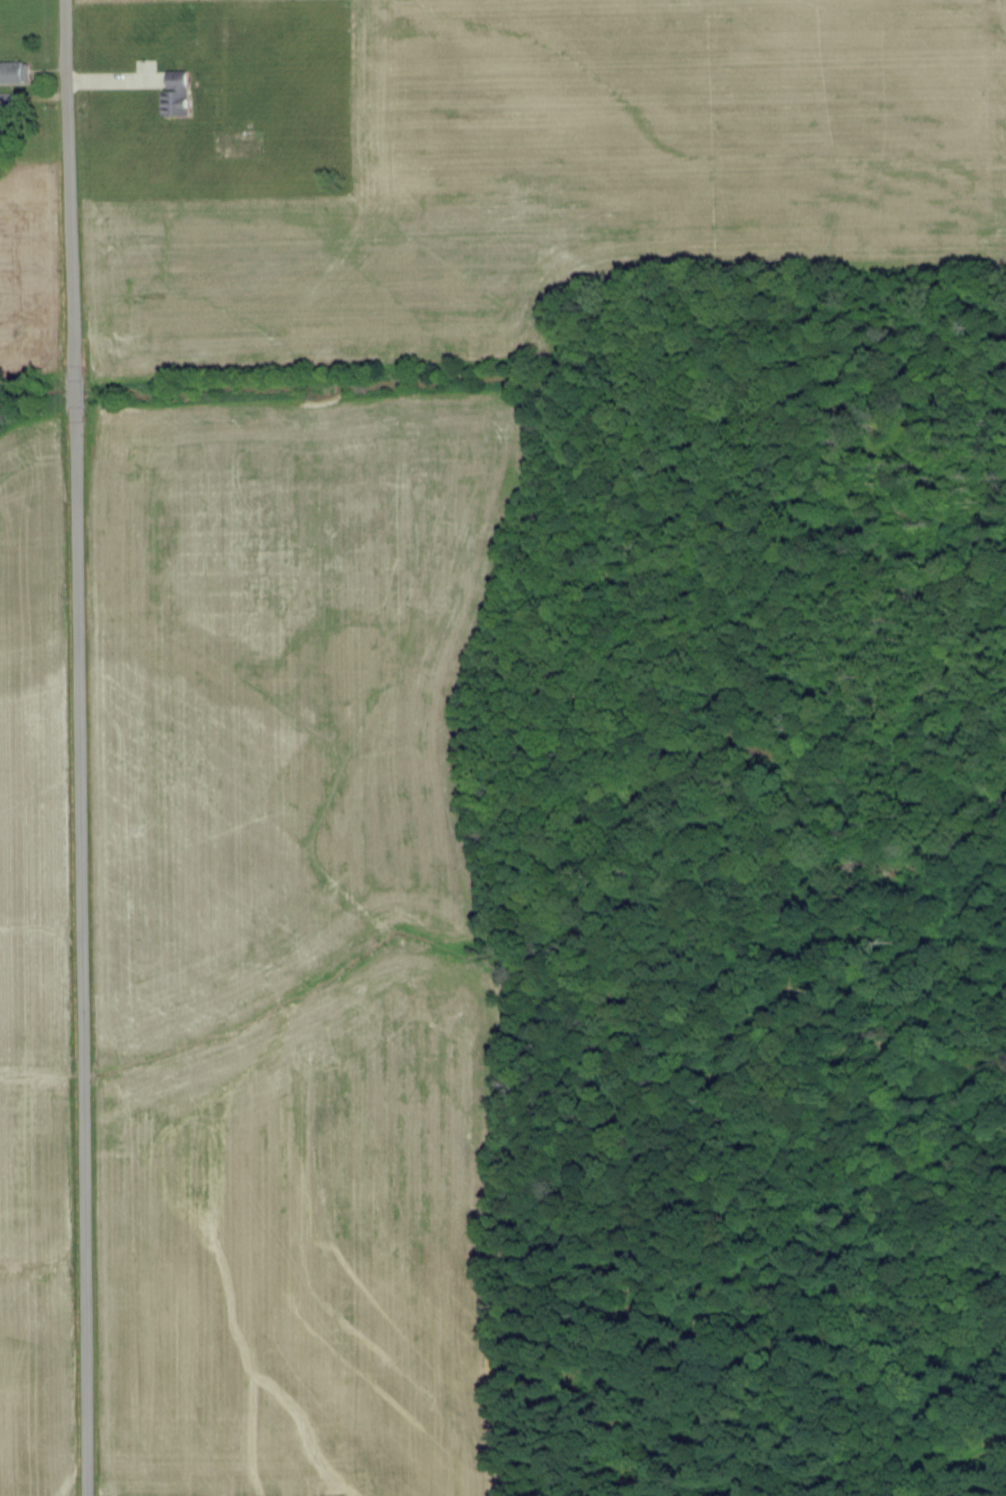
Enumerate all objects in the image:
building: (14, 72)
road: (34, 81)
building: (175, 95)
road: (82, 747)

